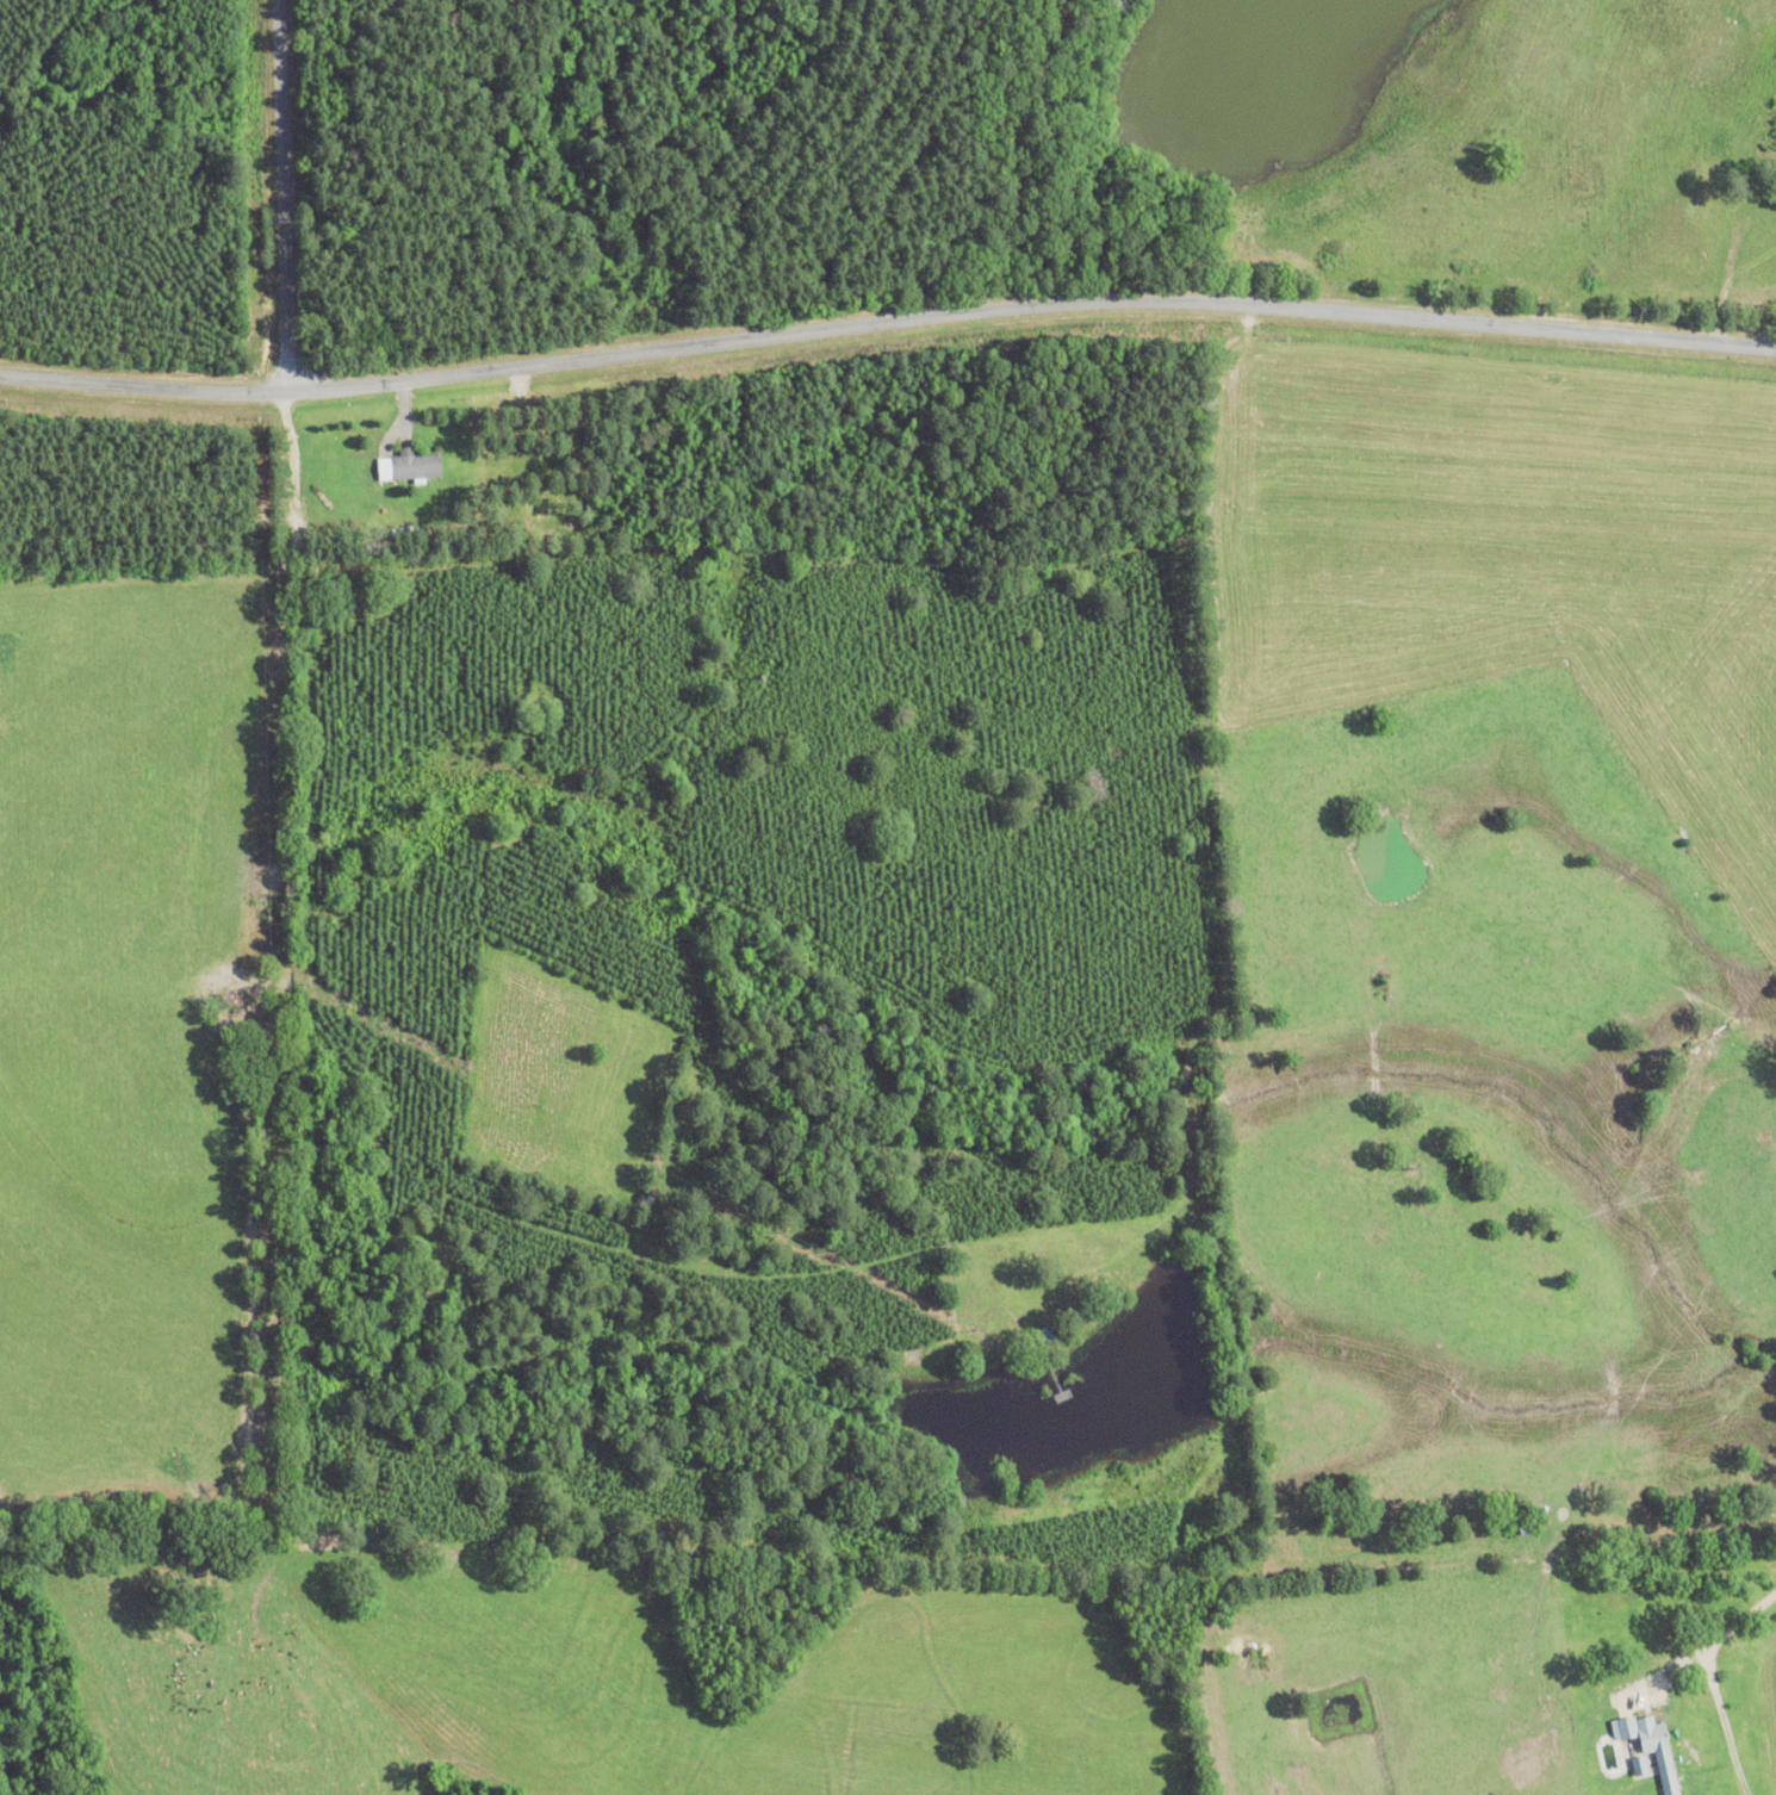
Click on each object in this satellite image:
road: (281, 194)
road: (887, 319)
building: (1217, 395)
building: (406, 465)
building: (1042, 1335)
road: (1713, 1638)
building: (1650, 1746)
building: (1637, 1765)

